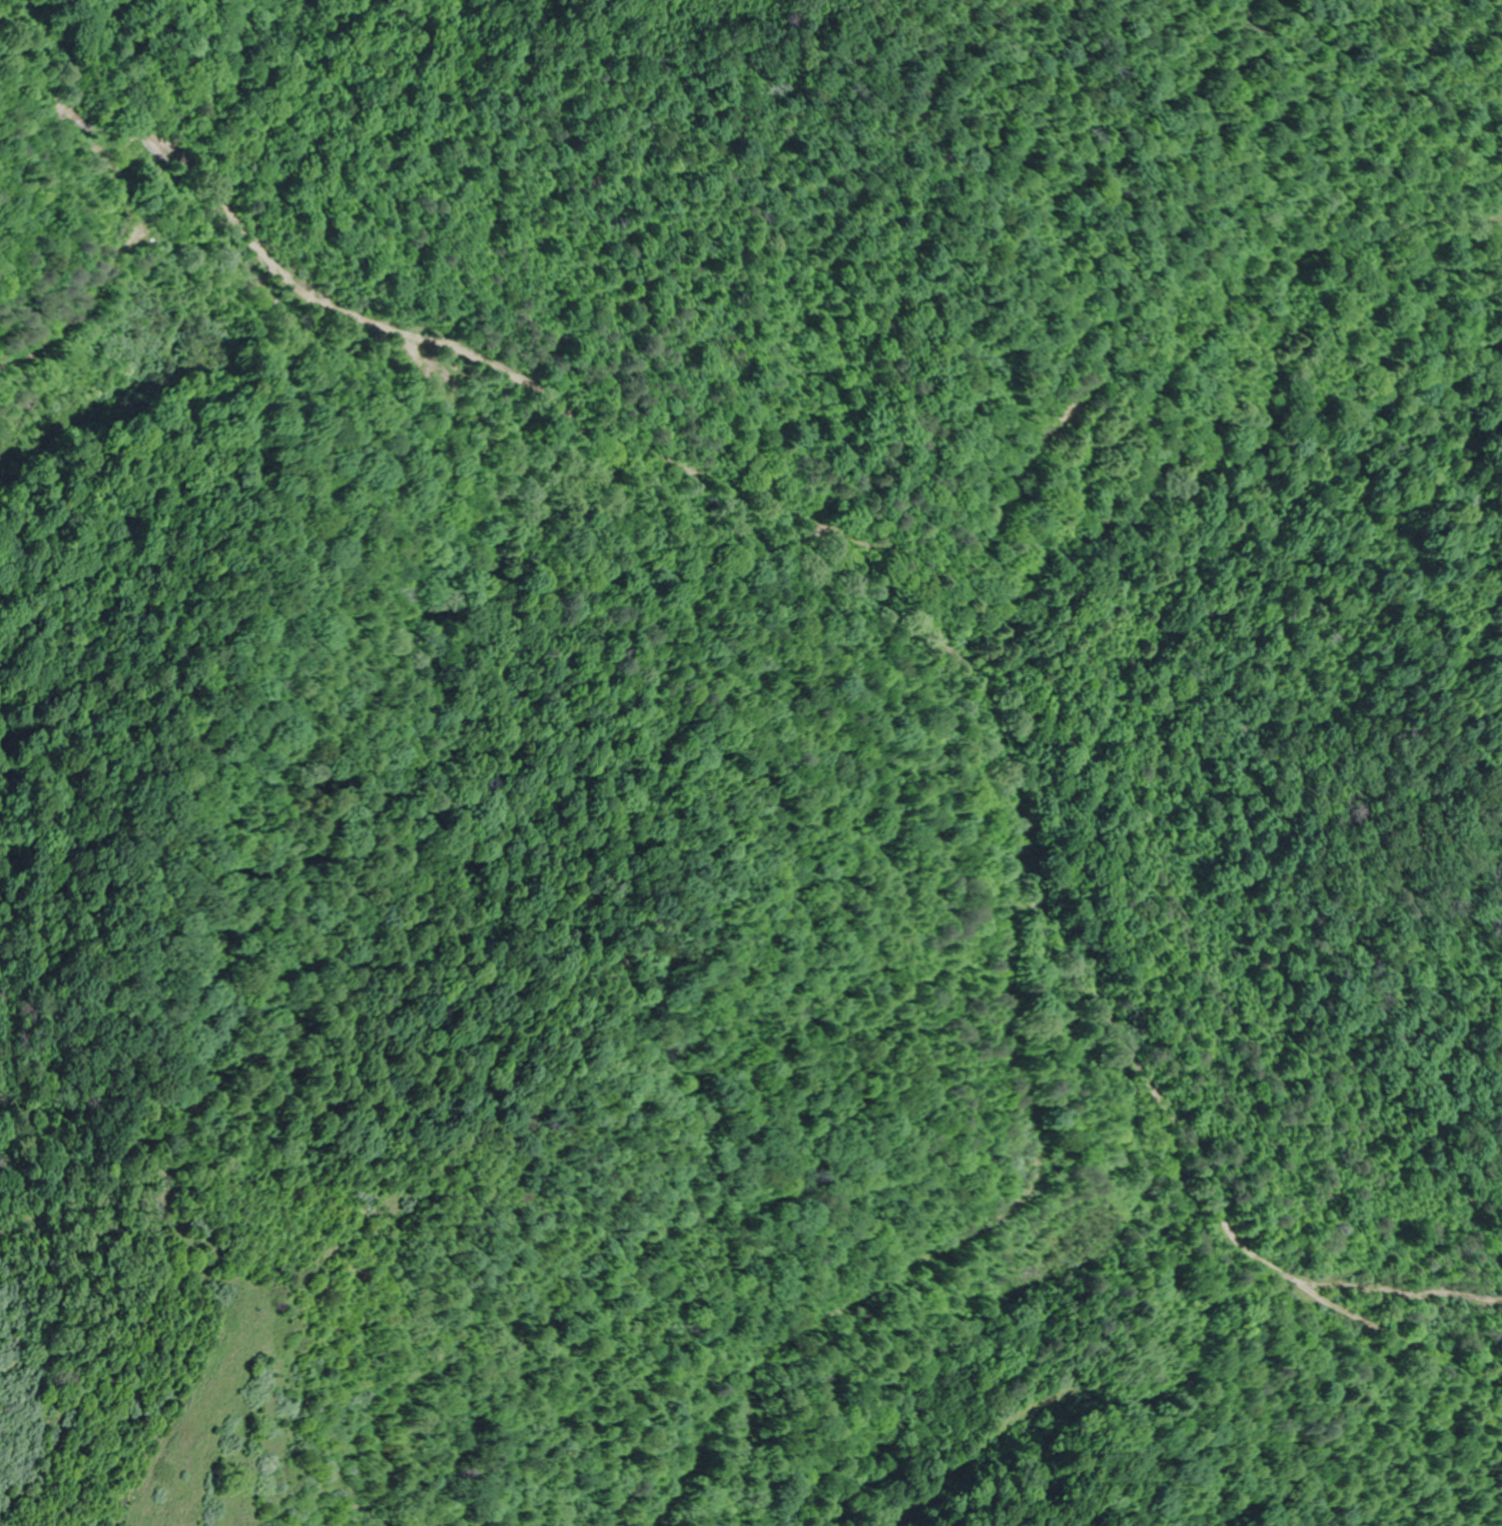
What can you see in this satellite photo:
road: (61, 23)
road: (919, 571)

